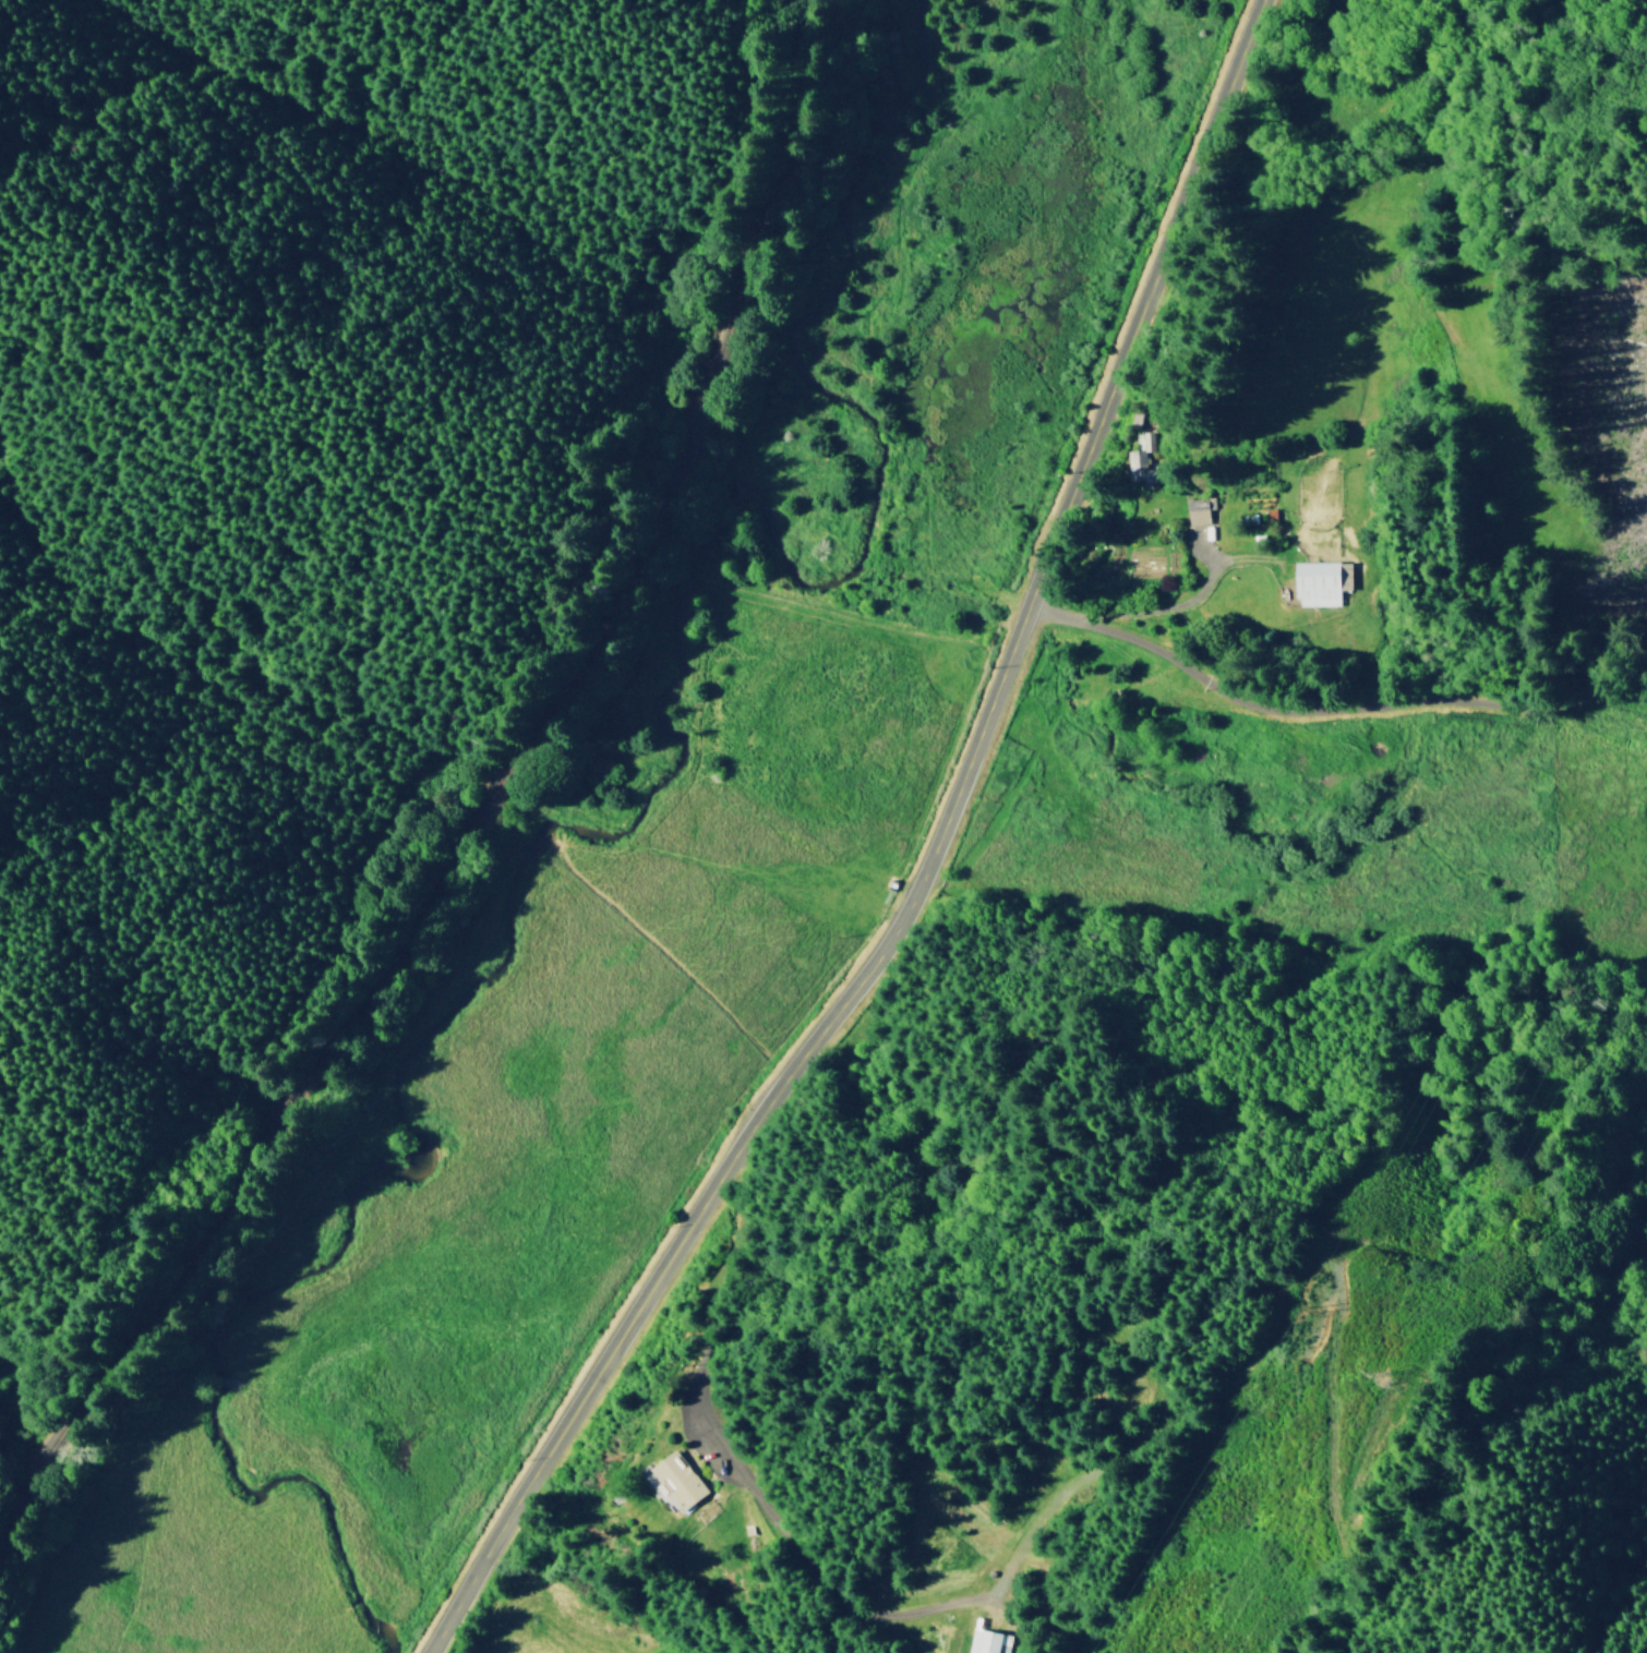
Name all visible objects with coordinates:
building: (1141, 458)
building: (1199, 510)
building: (1322, 581)
road: (1166, 612)
road: (1325, 707)
railway: (490, 804)
road: (928, 871)
power tower: (1390, 1380)
building: (673, 1479)
road: (779, 1542)
building: (987, 1641)

